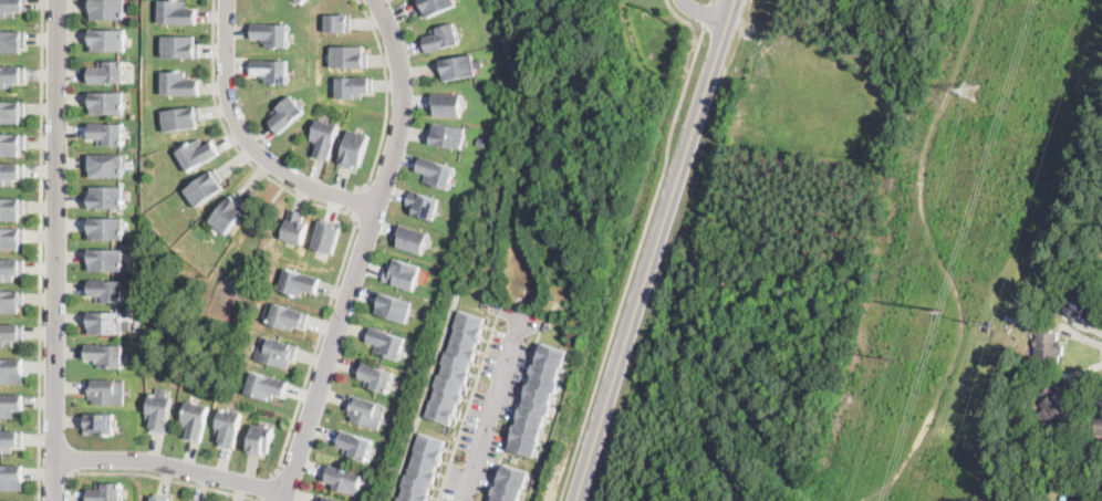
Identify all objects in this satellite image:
building: (301, 0)
road: (714, 0)
building: (436, 6)
building: (10, 7)
building: (107, 8)
building: (177, 11)
road: (704, 12)
road: (708, 12)
building: (339, 21)
building: (271, 32)
road: (693, 32)
building: (443, 36)
building: (108, 39)
building: (11, 40)
building: (181, 45)
building: (349, 55)
building: (459, 65)
building: (270, 69)
building: (108, 71)
building: (10, 75)
building: (179, 82)
building: (353, 85)
power tower: (968, 90)
road: (387, 97)
building: (105, 102)
building: (448, 104)
building: (10, 112)
building: (287, 112)
building: (181, 116)
building: (105, 133)
building: (448, 134)
building: (324, 136)
road: (247, 139)
building: (482, 140)
building: (10, 144)
building: (353, 148)
building: (197, 152)
building: (106, 165)
building: (436, 170)
building: (9, 173)
building: (205, 186)
building: (105, 198)
road: (354, 202)
building: (424, 202)
building: (10, 209)
road: (346, 210)
building: (228, 211)
building: (106, 226)
building: (293, 226)
building: (326, 233)
building: (412, 238)
building: (10, 239)
road: (40, 250)
road: (54, 250)
road: (656, 250)
road: (361, 251)
building: (104, 260)
road: (635, 262)
building: (9, 269)
building: (402, 273)
building: (299, 280)
building: (104, 290)
building: (1048, 298)
building: (1078, 300)
building: (9, 301)
building: (393, 306)
power tower: (942, 309)
building: (287, 316)
power tower: (984, 321)
building: (104, 322)
building: (137, 322)
building: (9, 333)
building: (387, 343)
building: (1047, 347)
building: (275, 352)
building: (104, 355)
building: (454, 366)
building: (11, 370)
building: (376, 377)
building: (266, 386)
building: (104, 390)
building: (537, 396)
parking lot: (490, 403)
building: (10, 404)
road: (491, 406)
building: (1057, 406)
road: (466, 407)
building: (365, 410)
building: (157, 411)
road: (512, 415)
building: (194, 419)
building: (101, 424)
building: (1098, 425)
building: (227, 428)
building: (259, 439)
building: (9, 440)
building: (354, 445)
road: (170, 466)
building: (423, 467)
road: (162, 477)
building: (11, 478)
building: (344, 479)
building: (509, 483)
road: (269, 487)
building: (104, 492)
building: (159, 498)
building: (325, 498)
building: (1081, 498)
building: (9, 500)
building: (190, 500)

